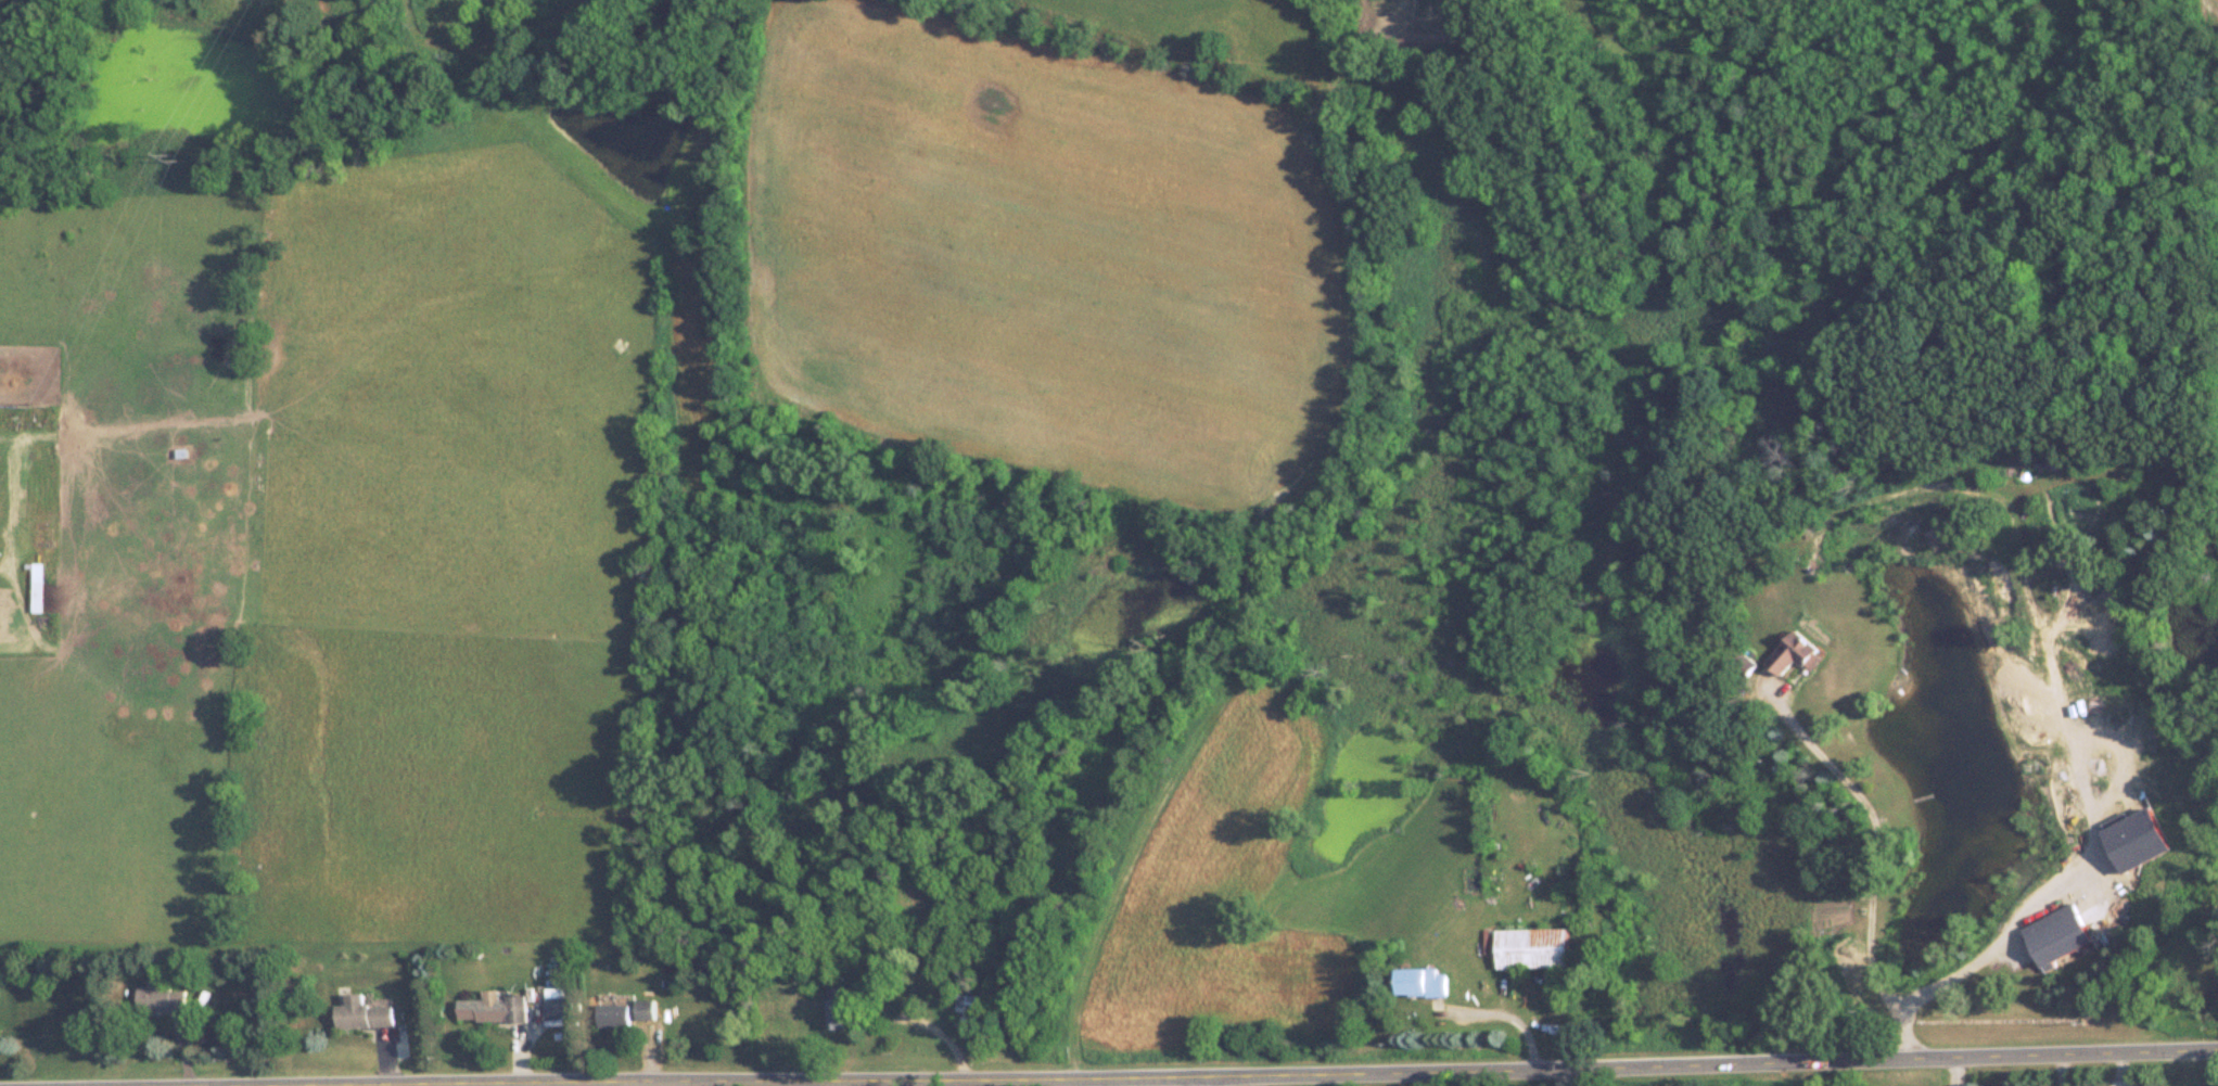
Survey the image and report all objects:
power tower: (178, 155)
road: (2, 542)
building: (36, 587)
building: (1795, 653)
building: (1746, 664)
road: (1877, 838)
building: (2052, 934)
building: (1530, 947)
road: (1991, 953)
building: (1419, 982)
building: (158, 996)
building: (557, 1001)
building: (492, 1008)
building: (838, 1008)
building: (643, 1009)
building: (361, 1013)
building: (611, 1014)
building: (964, 1015)
road: (926, 1022)
road: (1507, 1023)
road: (1444, 1063)
road: (1206, 1077)
road: (802, 1082)

